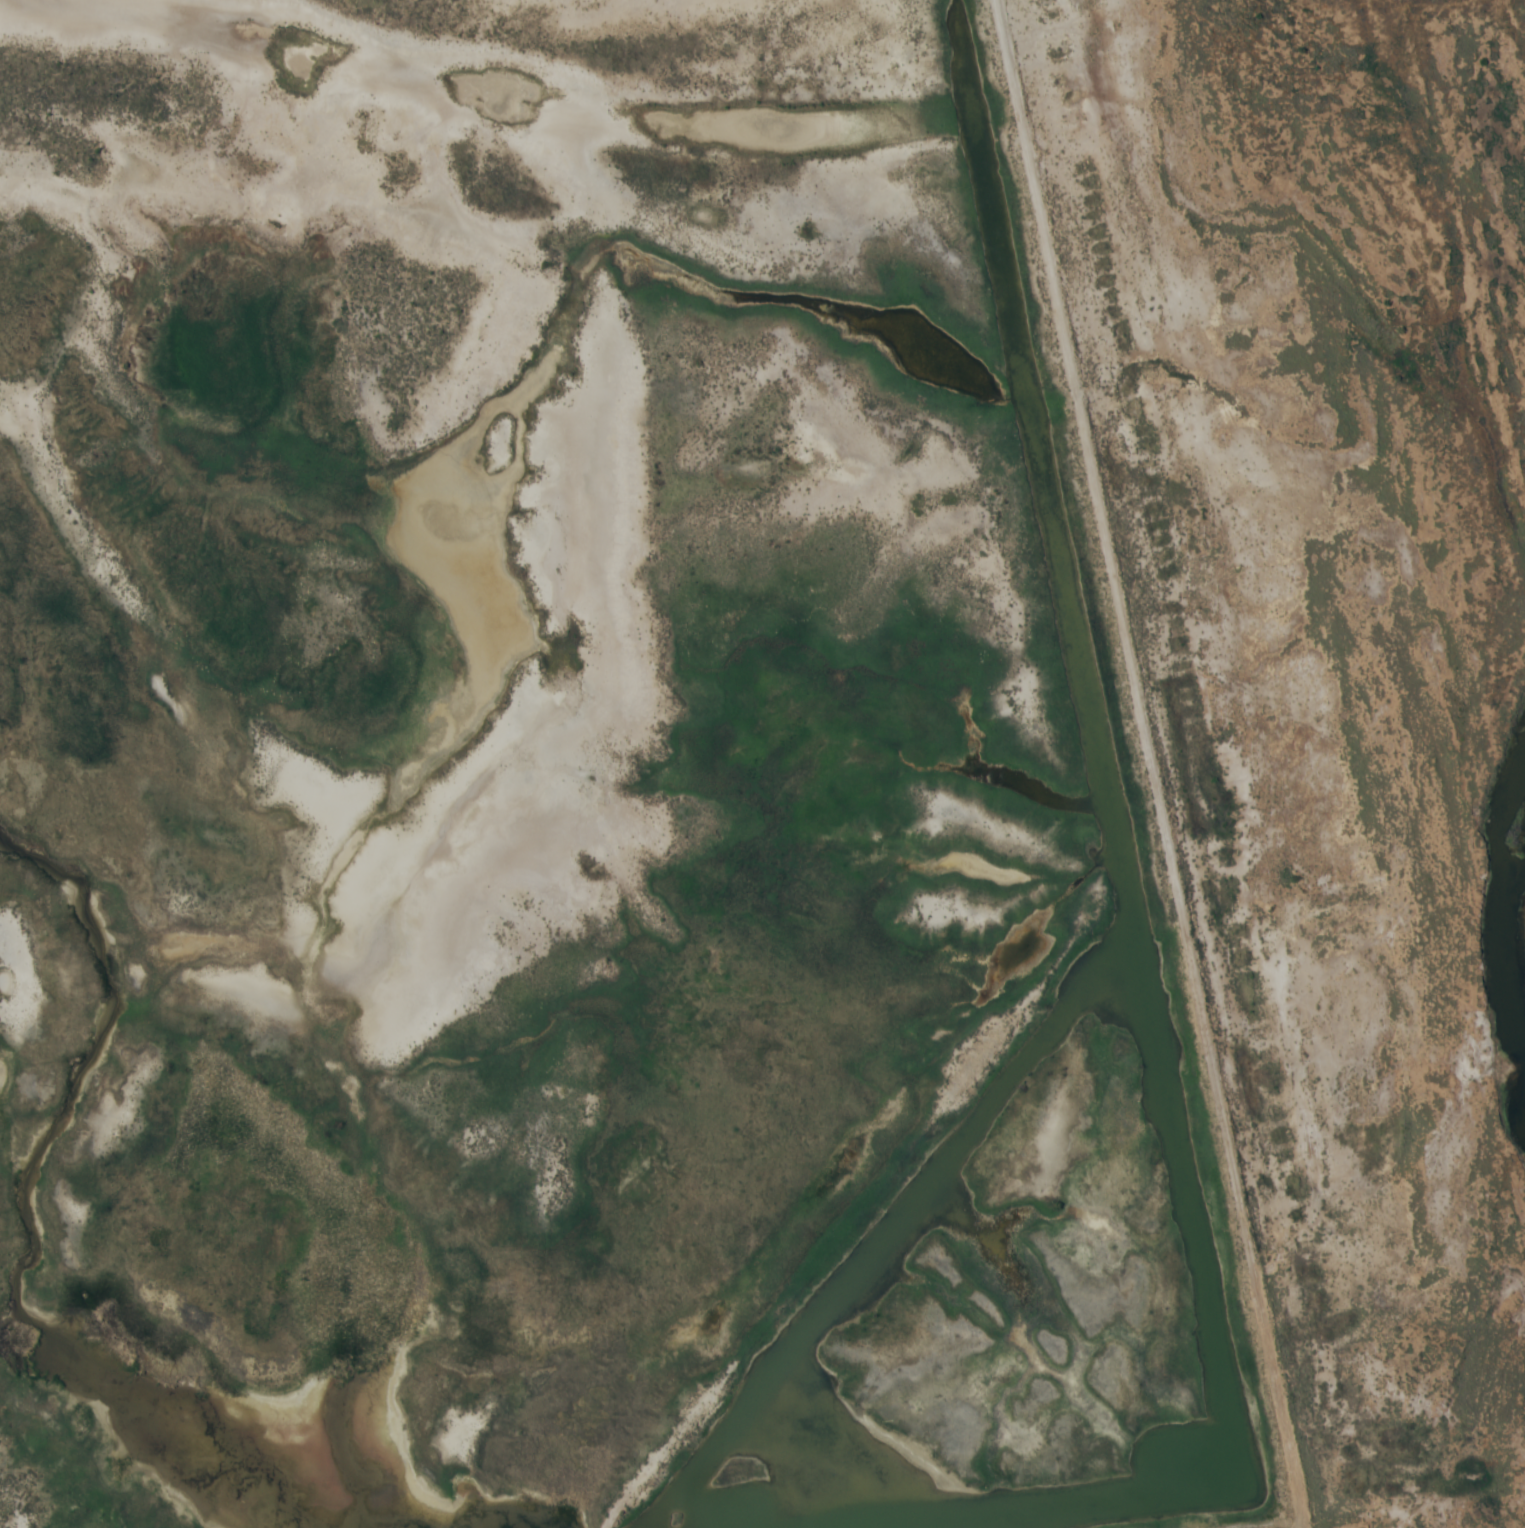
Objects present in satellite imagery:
road: (1177, 762)

